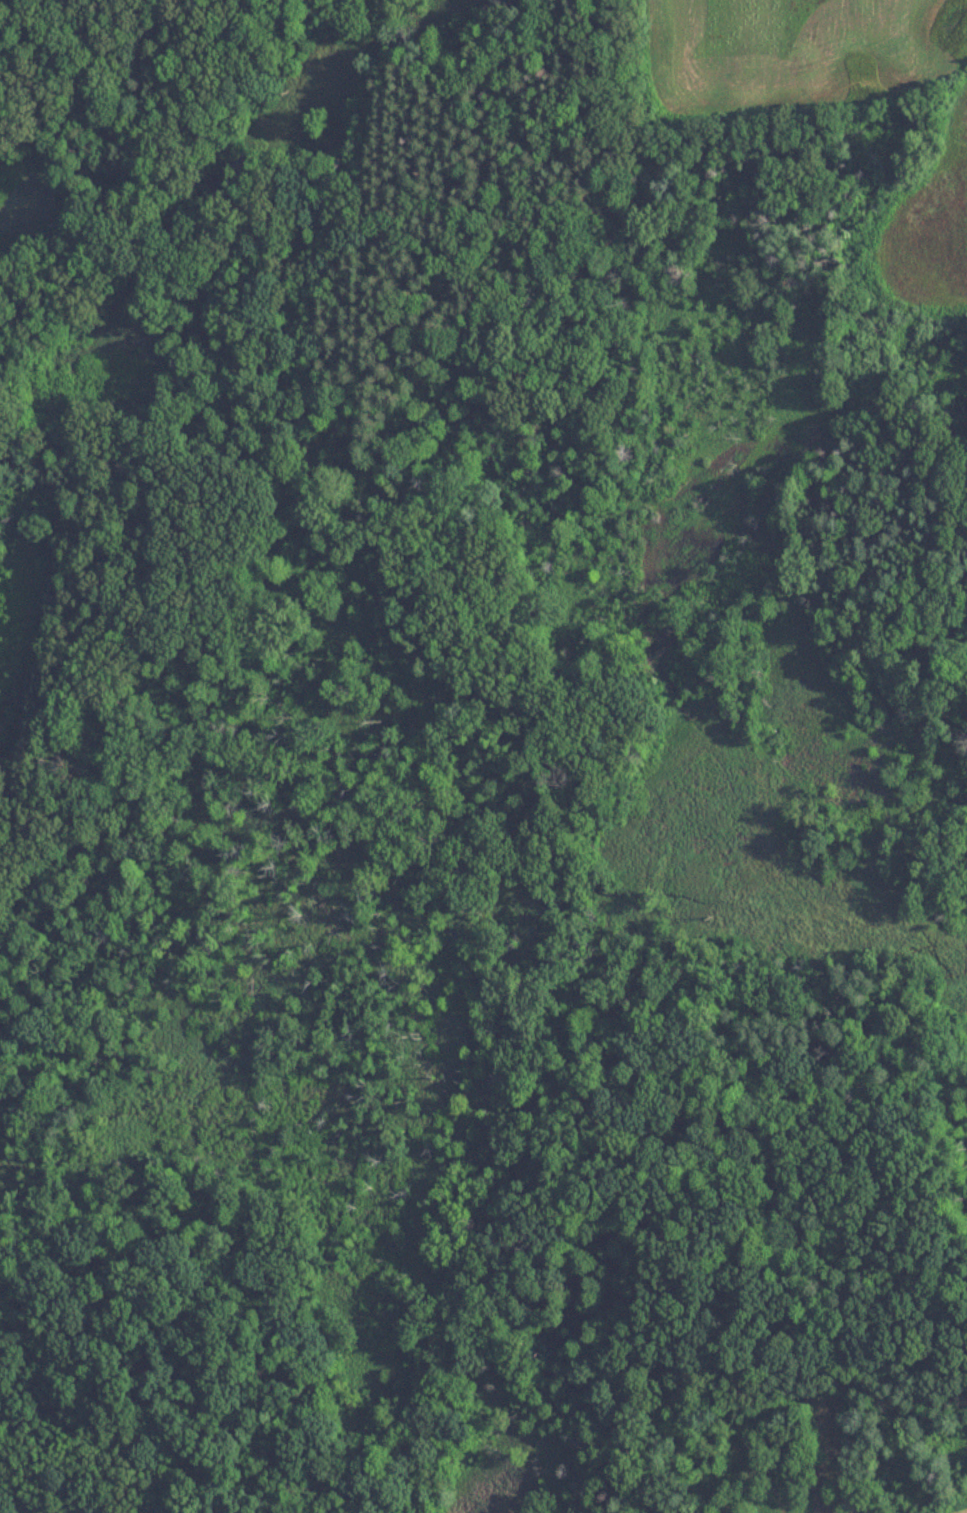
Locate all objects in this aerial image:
road: (127, 190)

